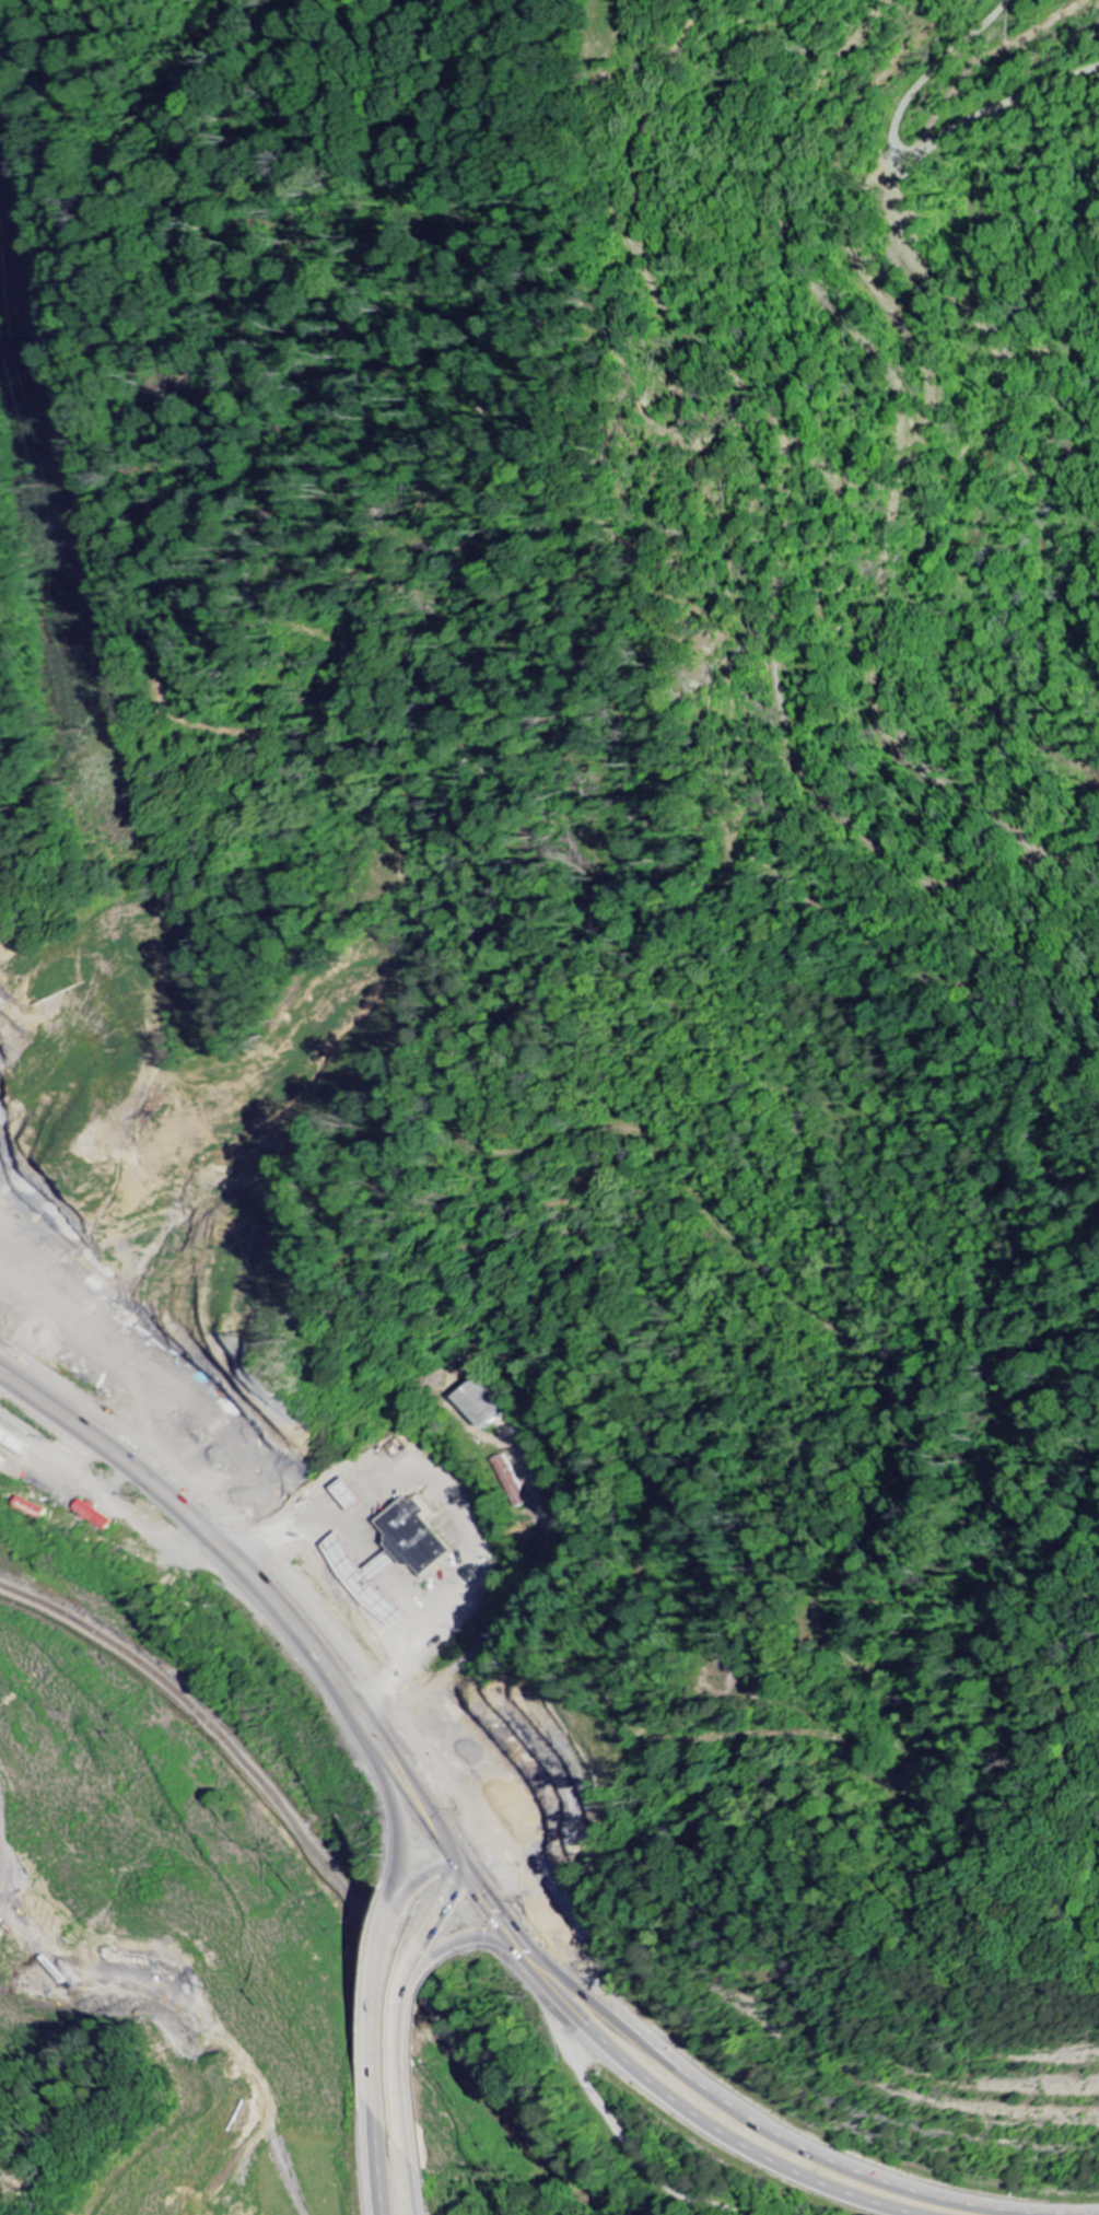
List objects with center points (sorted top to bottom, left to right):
power tower: (52, 486)
building: (486, 1404)
building: (15, 1438)
gas station: (15, 1438)
building: (5, 1461)
building: (347, 1491)
gas station: (347, 1491)
building: (98, 1516)
road: (189, 1519)
building: (423, 1539)
road: (280, 1567)
building: (367, 1575)
gas station: (367, 1575)
road: (402, 1780)
road: (7, 1781)
road: (396, 1814)
road: (470, 1850)
railway: (323, 1876)
road: (423, 1899)
road: (451, 1908)
road: (477, 1942)
road: (381, 2022)
road: (413, 2047)
road: (648, 2083)
road: (750, 2112)
road: (621, 2129)
road: (375, 2161)
road: (412, 2168)

